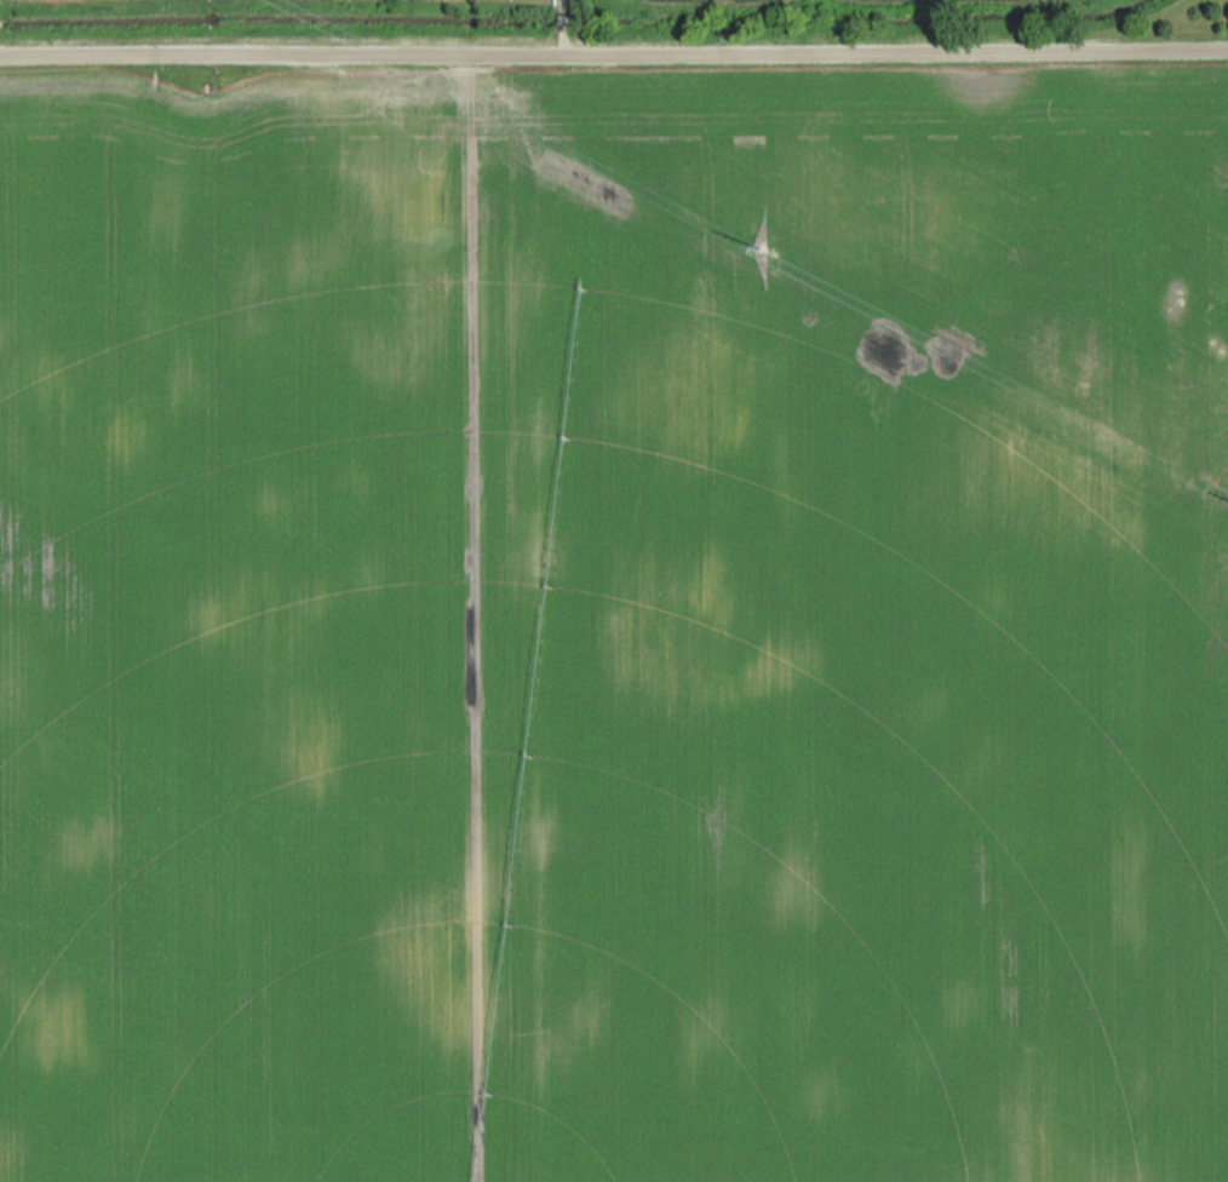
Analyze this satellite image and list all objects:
road: (614, 48)
power tower: (752, 243)
power tower: (696, 287)
power tower: (1218, 562)

